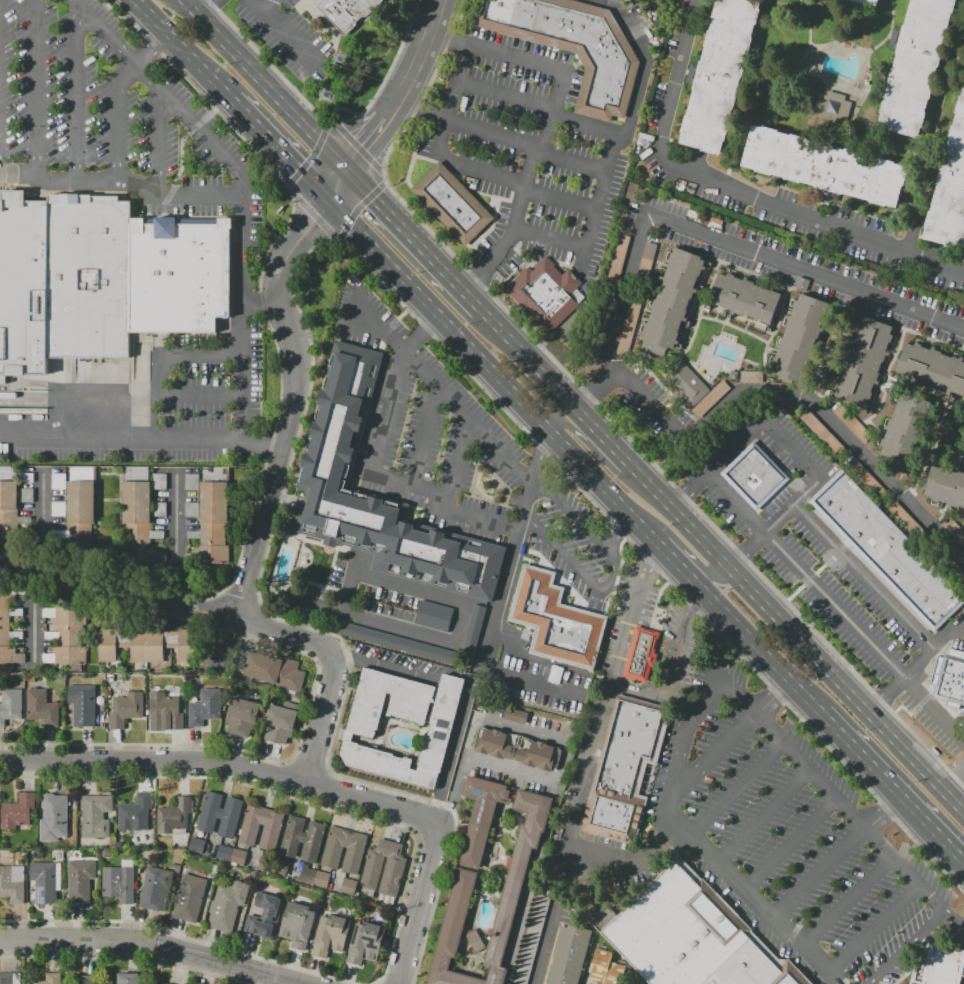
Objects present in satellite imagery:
road: (793, 1)
building: (870, 2)
road: (267, 5)
road: (206, 8)
building: (347, 13)
road: (280, 30)
road: (892, 37)
parking lot: (288, 38)
road: (178, 43)
building: (573, 46)
road: (156, 54)
power tower: (345, 58)
road: (417, 59)
road: (962, 63)
building: (916, 66)
building: (719, 74)
road: (264, 83)
road: (831, 83)
road: (40, 89)
road: (772, 89)
road: (79, 94)
power tower: (339, 95)
road: (860, 104)
road: (539, 105)
building: (832, 107)
parking lot: (112, 114)
road: (118, 116)
road: (545, 122)
road: (366, 140)
road: (156, 143)
road: (272, 144)
road: (929, 150)
parking lot: (534, 157)
traffic signals: (348, 167)
building: (825, 167)
road: (475, 168)
road: (598, 168)
road: (337, 184)
road: (242, 187)
building: (950, 192)
road: (735, 193)
traffic signals: (327, 201)
building: (452, 203)
road: (414, 238)
road: (567, 241)
building: (646, 260)
building: (615, 265)
building: (130, 275)
road: (241, 276)
building: (25, 284)
building: (545, 293)
building: (744, 297)
building: (671, 301)
building: (628, 329)
road: (422, 335)
building: (798, 337)
road: (238, 353)
road: (530, 357)
road: (606, 357)
building: (864, 362)
building: (933, 367)
building: (751, 376)
building: (689, 384)
road: (598, 389)
road: (439, 390)
road: (518, 395)
road: (198, 396)
parking lot: (192, 398)
building: (710, 398)
road: (292, 405)
building: (338, 420)
building: (852, 423)
building: (902, 428)
building: (818, 430)
road: (425, 437)
road: (79, 440)
road: (259, 449)
road: (791, 450)
road: (377, 451)
road: (600, 457)
building: (755, 476)
building: (58, 481)
building: (158, 481)
building: (190, 481)
building: (945, 486)
road: (689, 489)
building: (8, 500)
road: (445, 502)
road: (736, 504)
building: (80, 506)
building: (136, 515)
road: (40, 521)
building: (213, 525)
road: (620, 531)
road: (174, 538)
road: (684, 549)
road: (749, 550)
building: (888, 550)
road: (614, 574)
road: (864, 578)
road: (117, 589)
road: (501, 597)
road: (771, 606)
road: (32, 612)
building: (434, 616)
building: (555, 620)
building: (8, 626)
building: (473, 629)
road: (461, 635)
building: (65, 636)
road: (865, 637)
building: (392, 641)
building: (144, 645)
building: (641, 654)
road: (763, 654)
road: (338, 664)
road: (919, 665)
road: (386, 666)
building: (275, 670)
road: (671, 671)
building: (951, 682)
road: (887, 694)
road: (703, 700)
building: (82, 704)
building: (10, 705)
building: (42, 708)
building: (204, 708)
building: (126, 709)
building: (166, 709)
building: (514, 715)
building: (241, 717)
building: (279, 723)
building: (361, 730)
road: (731, 739)
road: (569, 743)
building: (516, 748)
road: (596, 750)
road: (870, 761)
road: (225, 763)
building: (624, 770)
road: (739, 788)
road: (455, 792)
road: (962, 795)
building: (16, 812)
building: (135, 814)
building: (96, 815)
building: (219, 815)
road: (765, 816)
building: (53, 817)
building: (173, 817)
parking lot: (785, 832)
road: (941, 833)
building: (269, 834)
building: (301, 839)
road: (792, 844)
building: (195, 845)
building: (344, 849)
building: (230, 854)
road: (837, 855)
building: (383, 868)
building: (313, 877)
building: (465, 879)
building: (80, 880)
building: (44, 882)
building: (120, 882)
building: (12, 884)
road: (535, 884)
building: (347, 886)
building: (154, 888)
building: (190, 898)
road: (419, 903)
road: (847, 903)
building: (227, 905)
building: (264, 915)
road: (955, 915)
building: (297, 924)
road: (872, 931)
building: (331, 935)
building: (687, 936)
building: (530, 940)
building: (365, 943)
road: (148, 944)
road: (542, 945)
road: (907, 947)
building: (568, 957)
building: (940, 967)
building: (604, 969)
building: (6, 978)
building: (51, 978)
building: (128, 978)
building: (85, 979)
building: (161, 982)

